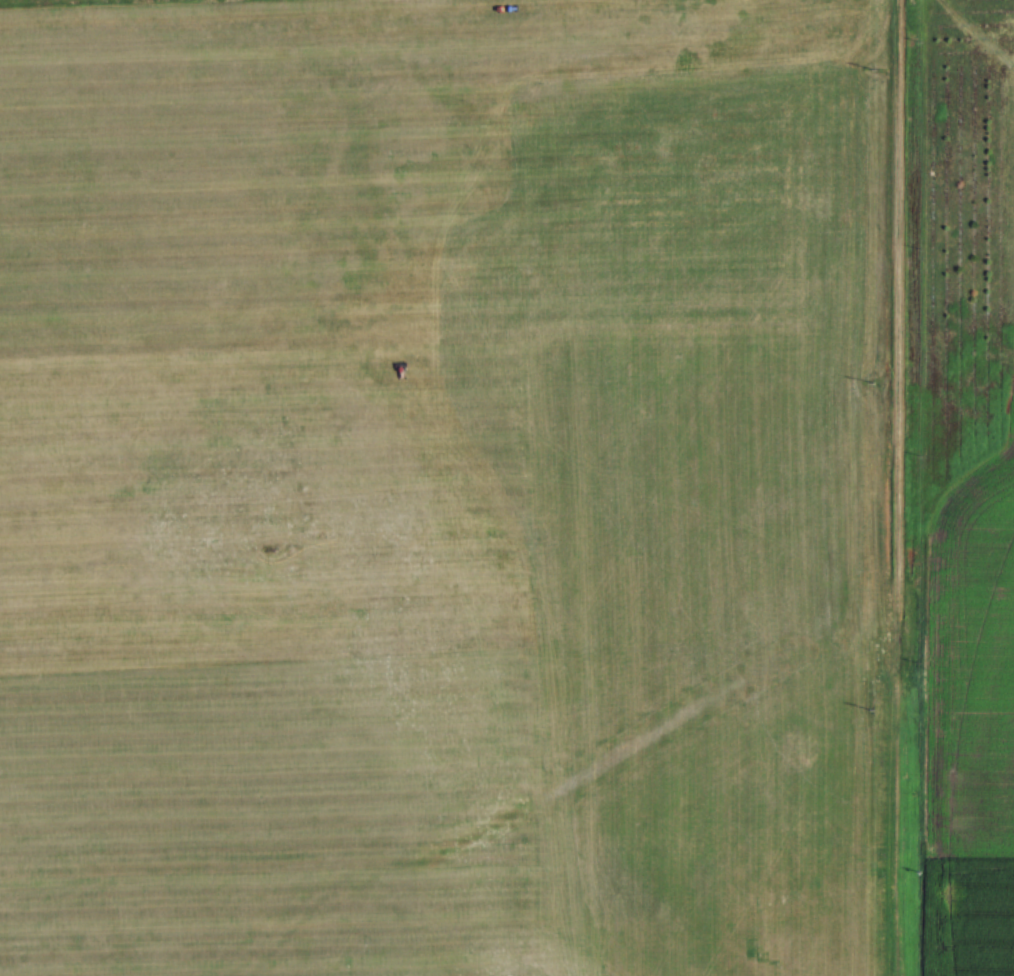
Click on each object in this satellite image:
road: (900, 488)

